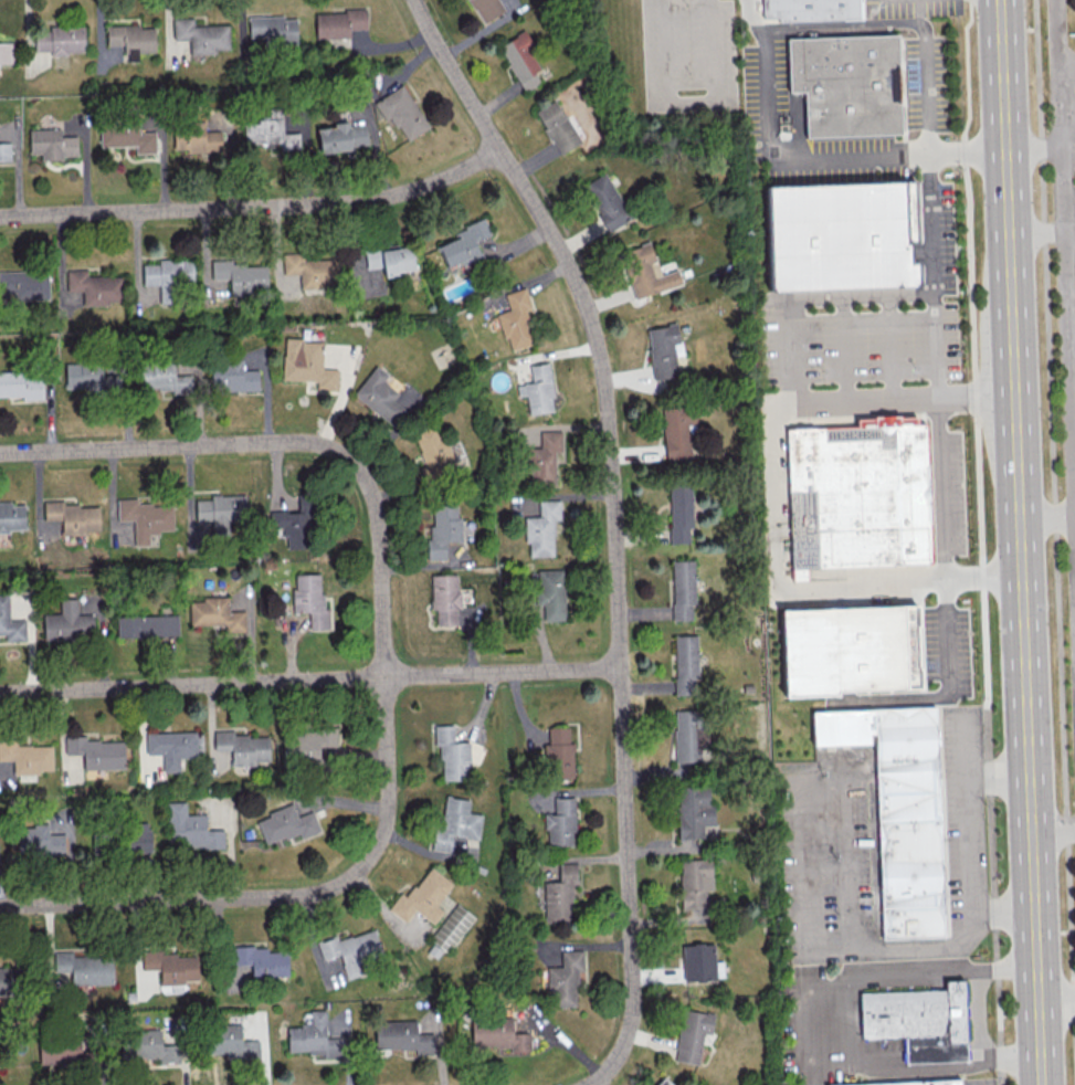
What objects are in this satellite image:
building: (486, 8)
building: (814, 10)
road: (917, 11)
road: (752, 15)
building: (338, 22)
building: (272, 29)
building: (201, 34)
building: (60, 39)
building: (131, 39)
building: (6, 53)
building: (521, 59)
road: (1066, 66)
road: (1004, 74)
building: (850, 86)
road: (1067, 94)
road: (685, 99)
building: (401, 112)
parking lot: (1073, 112)
building: (557, 126)
building: (271, 130)
road: (925, 130)
building: (126, 135)
building: (341, 136)
building: (196, 137)
building: (52, 144)
road: (1068, 145)
road: (1034, 146)
building: (4, 150)
road: (826, 156)
road: (1068, 192)
building: (605, 201)
road: (255, 207)
road: (1069, 215)
road: (1037, 232)
building: (841, 235)
building: (464, 243)
road: (1069, 244)
parking lot: (1073, 254)
building: (390, 259)
road: (1065, 268)
building: (310, 270)
building: (646, 271)
building: (168, 276)
building: (241, 276)
building: (25, 284)
building: (94, 286)
road: (856, 295)
road: (1071, 295)
building: (515, 319)
road: (1072, 344)
parking lot: (860, 345)
road: (889, 346)
road: (843, 348)
building: (664, 350)
road: (786, 350)
building: (307, 362)
building: (88, 376)
building: (232, 376)
building: (162, 378)
building: (21, 385)
building: (538, 389)
road: (1073, 392)
building: (379, 397)
road: (902, 397)
building: (677, 433)
road: (1073, 438)
road: (182, 446)
building: (544, 457)
road: (1074, 489)
building: (862, 495)
building: (221, 512)
building: (679, 513)
building: (11, 516)
building: (72, 516)
building: (145, 518)
road: (1047, 518)
building: (296, 524)
road: (1055, 524)
road: (613, 525)
building: (443, 528)
building: (541, 528)
road: (979, 540)
road: (807, 586)
building: (683, 589)
building: (550, 593)
building: (309, 598)
building: (444, 598)
building: (215, 613)
road: (1024, 617)
building: (10, 622)
building: (67, 622)
building: (147, 625)
building: (882, 640)
road: (383, 647)
road: (794, 656)
building: (685, 664)
road: (309, 681)
road: (911, 686)
building: (688, 736)
building: (308, 741)
building: (171, 747)
building: (242, 747)
building: (96, 751)
building: (451, 754)
building: (558, 754)
building: (27, 756)
road: (972, 776)
building: (693, 810)
building: (902, 811)
building: (455, 822)
building: (560, 822)
building: (285, 824)
building: (189, 829)
road: (1053, 831)
building: (137, 836)
building: (38, 840)
road: (978, 846)
building: (694, 882)
building: (560, 894)
road: (204, 897)
building: (422, 897)
building: (451, 928)
building: (351, 951)
road: (853, 951)
building: (262, 960)
building: (699, 962)
building: (171, 966)
building: (84, 967)
road: (907, 972)
building: (563, 979)
building: (8, 980)
road: (1056, 1000)
road: (978, 1020)
building: (918, 1021)
road: (803, 1025)
building: (497, 1034)
building: (692, 1034)
building: (312, 1036)
building: (402, 1036)
building: (230, 1042)
building: (147, 1045)
building: (63, 1052)
road: (946, 1071)
building: (664, 1082)
building: (915, 1083)
road: (982, 1083)

